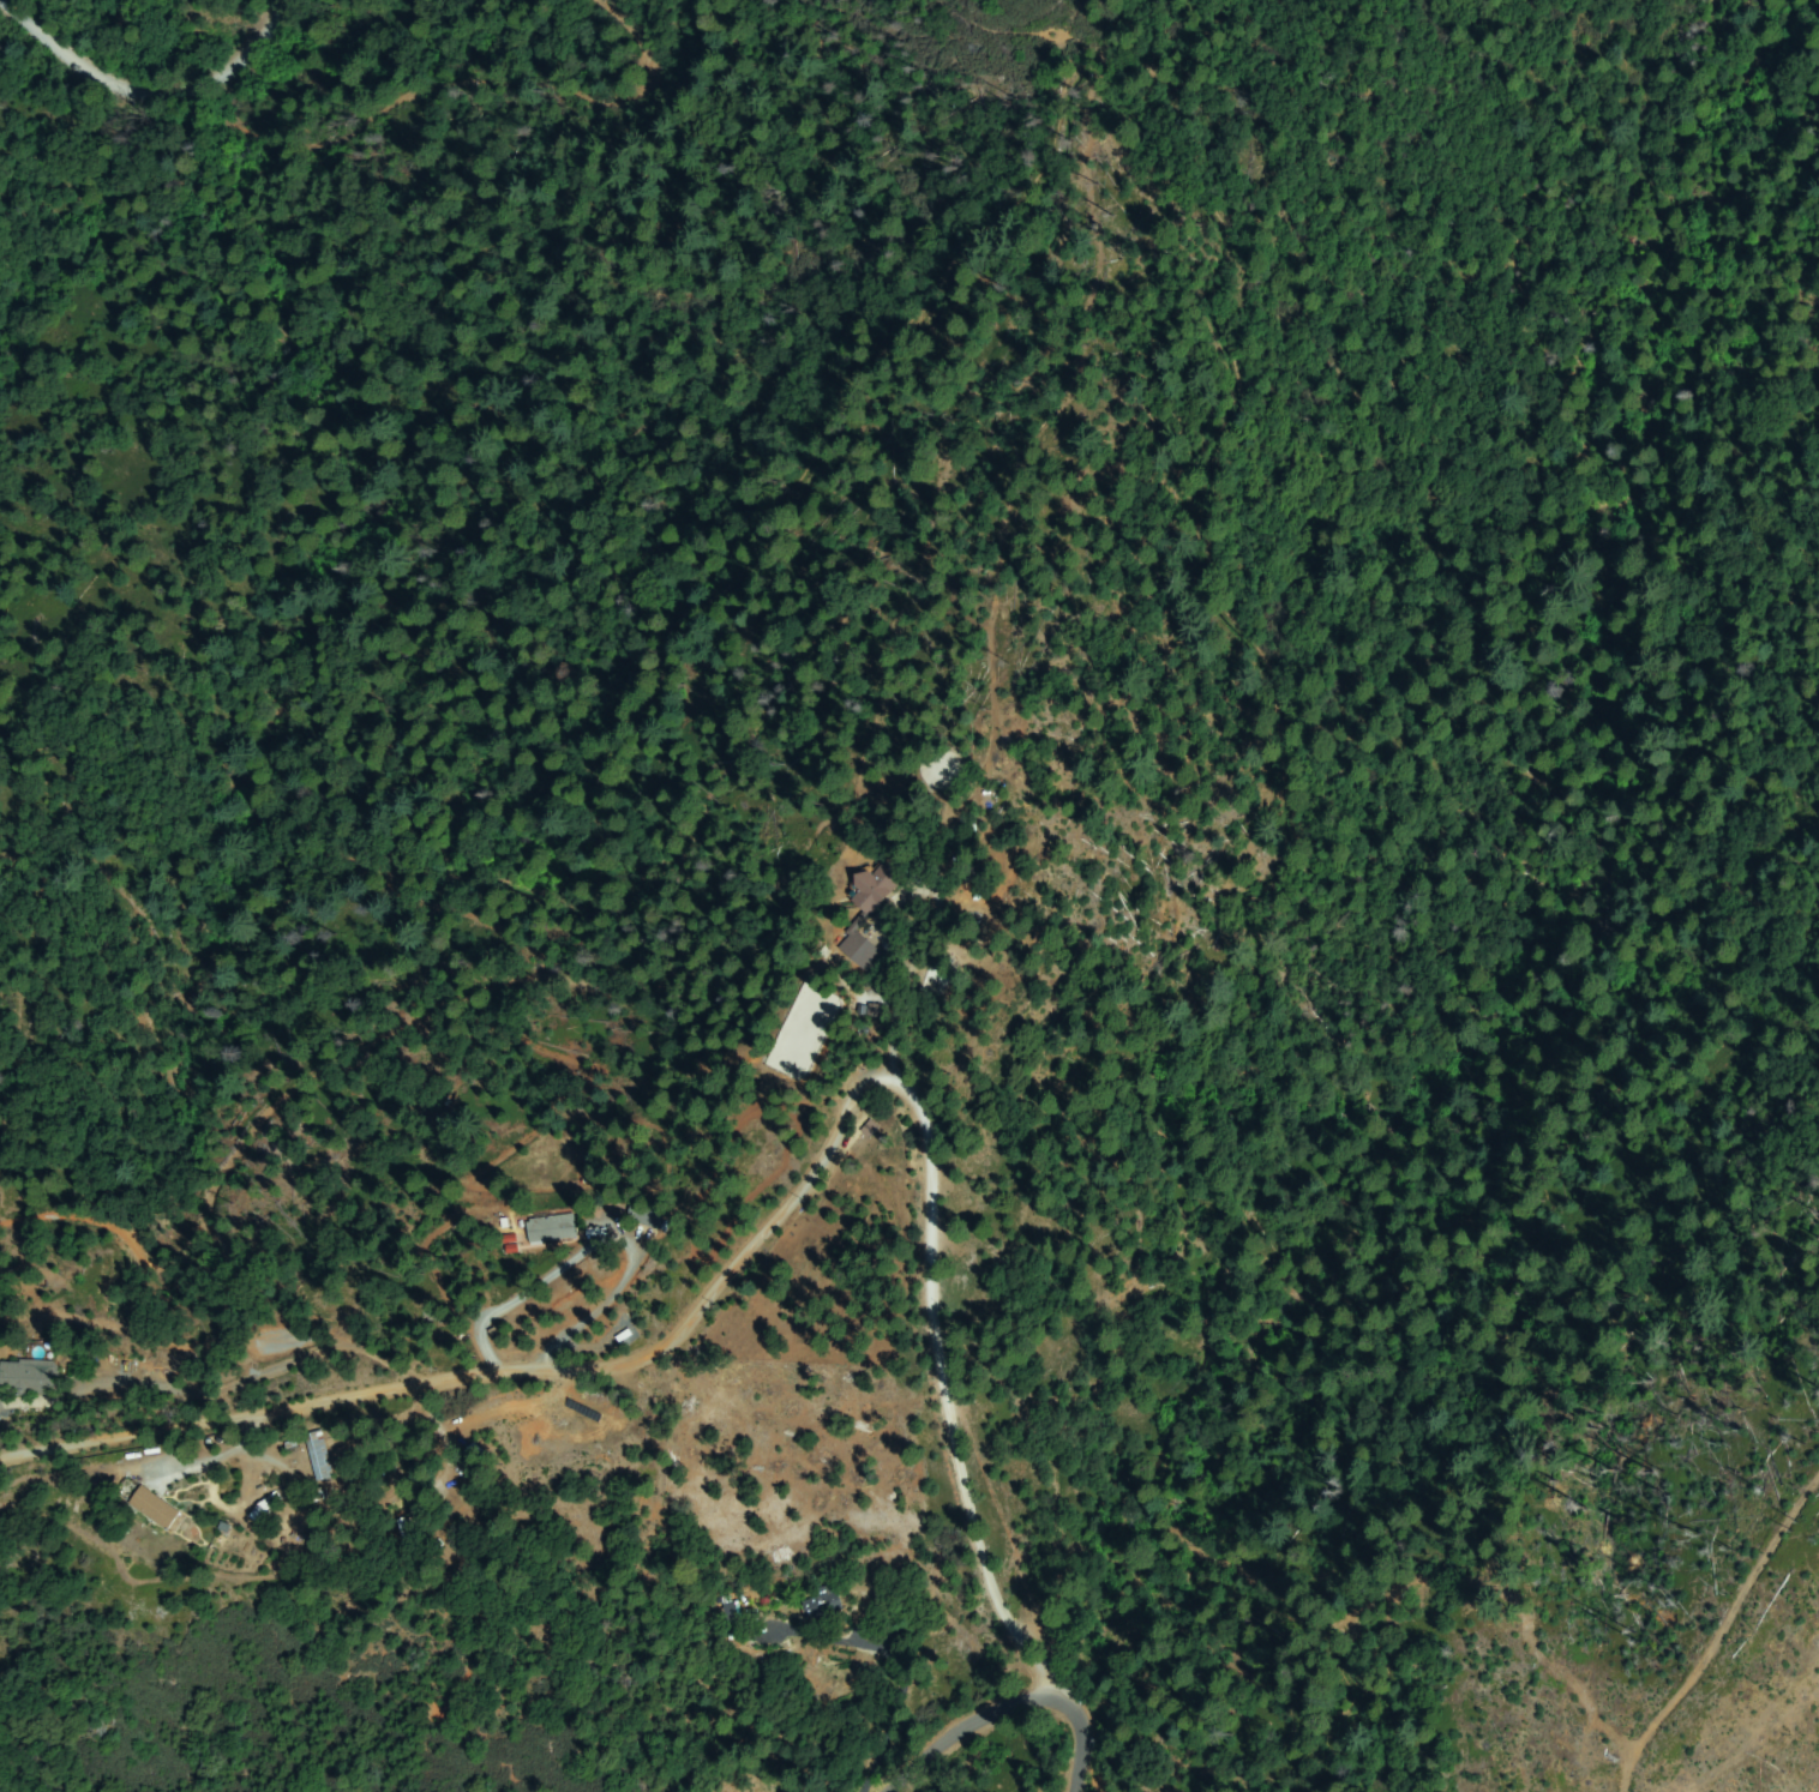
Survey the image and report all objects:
road: (134, 83)
building: (869, 906)
road: (757, 1213)
building: (648, 1214)
building: (552, 1228)
building: (29, 1377)
road: (96, 1382)
building: (319, 1453)
building: (155, 1507)
building: (409, 1537)
building: (824, 1605)
building: (728, 1612)
road: (1019, 1686)
road: (1736, 1716)
road: (1095, 1760)

